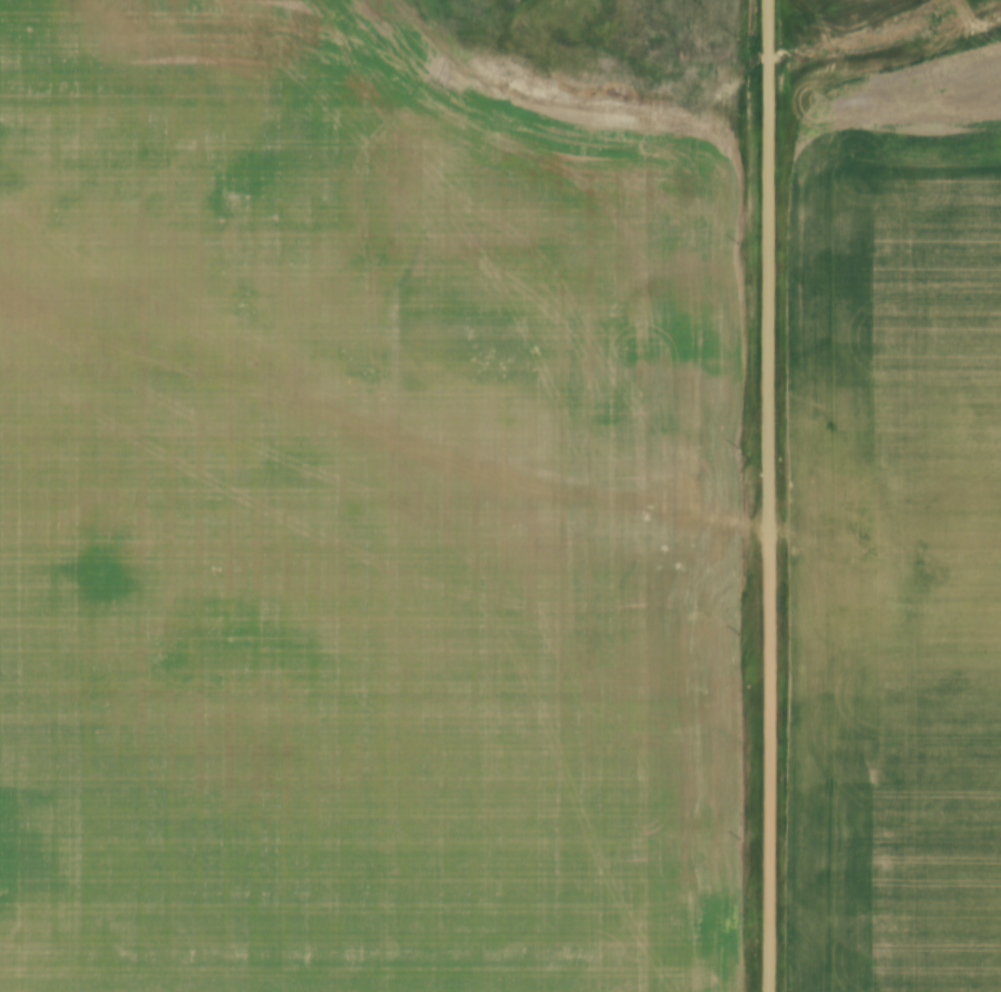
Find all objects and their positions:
road: (767, 496)

